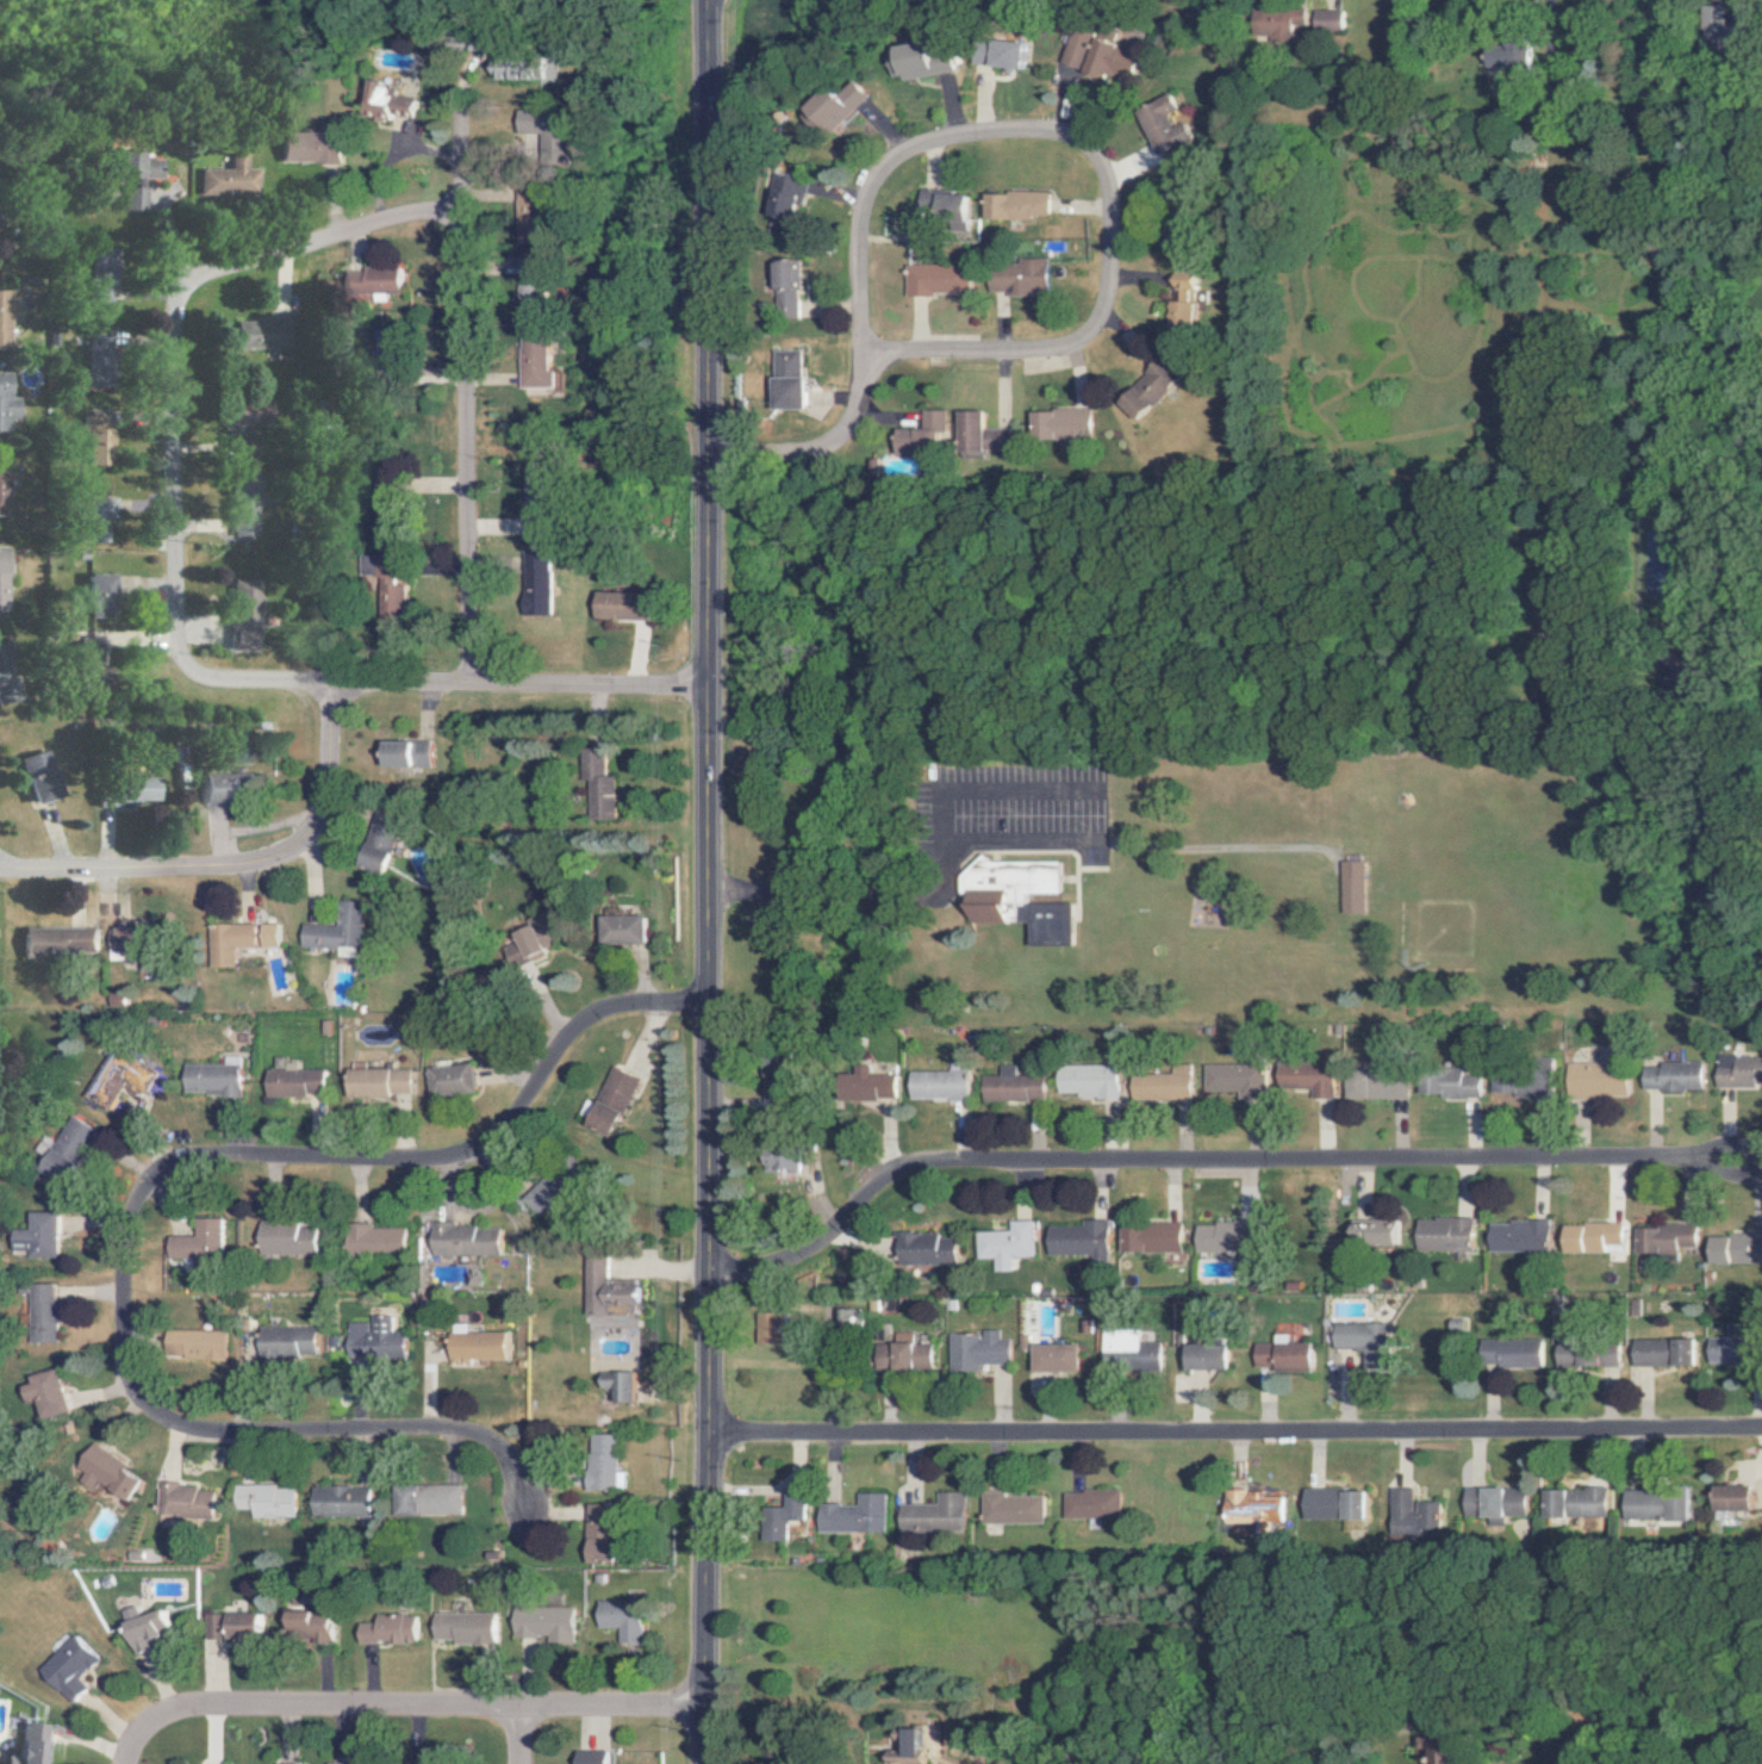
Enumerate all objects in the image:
building: (1327, 19)
building: (1281, 24)
building: (1739, 24)
road: (1534, 35)
building: (1101, 52)
building: (1013, 54)
building: (1505, 54)
building: (922, 60)
building: (524, 67)
building: (394, 103)
building: (842, 103)
building: (1165, 124)
building: (543, 131)
building: (311, 147)
building: (133, 178)
building: (228, 178)
building: (792, 198)
building: (946, 204)
building: (1017, 204)
building: (528, 218)
road: (1110, 238)
building: (105, 273)
building: (1019, 277)
building: (936, 279)
building: (374, 281)
building: (789, 287)
building: (1188, 299)
building: (5, 319)
building: (262, 333)
road: (183, 342)
building: (533, 359)
building: (105, 362)
building: (787, 379)
building: (1153, 389)
road: (465, 396)
building: (8, 403)
building: (1061, 423)
building: (982, 433)
building: (104, 436)
building: (921, 436)
road: (822, 454)
building: (6, 491)
building: (100, 524)
building: (6, 579)
building: (533, 584)
building: (106, 592)
building: (388, 596)
building: (617, 605)
building: (251, 614)
building: (10, 673)
road: (447, 697)
building: (406, 753)
building: (46, 776)
building: (597, 784)
building: (142, 789)
building: (229, 789)
building: (376, 841)
road: (998, 841)
road: (232, 871)
road: (1, 876)
road: (698, 881)
building: (1346, 887)
building: (1015, 899)
building: (619, 930)
building: (332, 931)
building: (61, 940)
building: (127, 940)
building: (237, 940)
building: (525, 945)
building: (1736, 1070)
building: (1668, 1076)
building: (114, 1077)
building: (1231, 1077)
building: (207, 1079)
building: (1303, 1079)
building: (448, 1080)
building: (1083, 1080)
building: (1593, 1080)
building: (289, 1081)
building: (1371, 1082)
building: (1509, 1083)
building: (865, 1085)
building: (935, 1085)
building: (1008, 1085)
building: (1158, 1085)
building: (1445, 1085)
building: (606, 1101)
building: (63, 1151)
building: (777, 1160)
road: (1203, 1160)
road: (125, 1195)
building: (1371, 1231)
building: (1440, 1234)
building: (1514, 1235)
building: (37, 1236)
building: (1220, 1236)
building: (1587, 1237)
building: (284, 1238)
building: (1146, 1238)
building: (1660, 1238)
building: (371, 1240)
building: (461, 1240)
building: (1075, 1240)
building: (194, 1241)
building: (1000, 1243)
building: (1732, 1248)
building: (921, 1249)
building: (604, 1287)
building: (38, 1313)
building: (843, 1319)
building: (371, 1340)
building: (284, 1341)
building: (1361, 1342)
building: (192, 1344)
building: (472, 1347)
building: (972, 1350)
building: (1123, 1350)
building: (1661, 1352)
building: (902, 1353)
building: (1509, 1353)
building: (1582, 1354)
building: (1203, 1355)
building: (1280, 1355)
building: (1052, 1358)
building: (615, 1385)
building: (43, 1392)
road: (1233, 1436)
building: (597, 1461)
building: (104, 1472)
building: (1731, 1496)
building: (423, 1498)
building: (181, 1499)
building: (262, 1499)
building: (337, 1499)
building: (1574, 1502)
building: (1332, 1503)
building: (1492, 1503)
building: (1088, 1504)
building: (1007, 1508)
building: (1250, 1508)
building: (780, 1513)
building: (848, 1514)
building: (929, 1514)
building: (1409, 1515)
building: (597, 1533)
building: (617, 1619)
building: (307, 1622)
building: (541, 1622)
building: (229, 1625)
building: (461, 1627)
building: (144, 1628)
building: (387, 1628)
building: (67, 1667)
road: (421, 1710)
road: (1624, 1728)
road: (515, 1737)
building: (36, 1745)
building: (899, 1745)
road: (135, 1746)
building: (1443, 1750)
building: (587, 1757)
building: (344, 1763)

